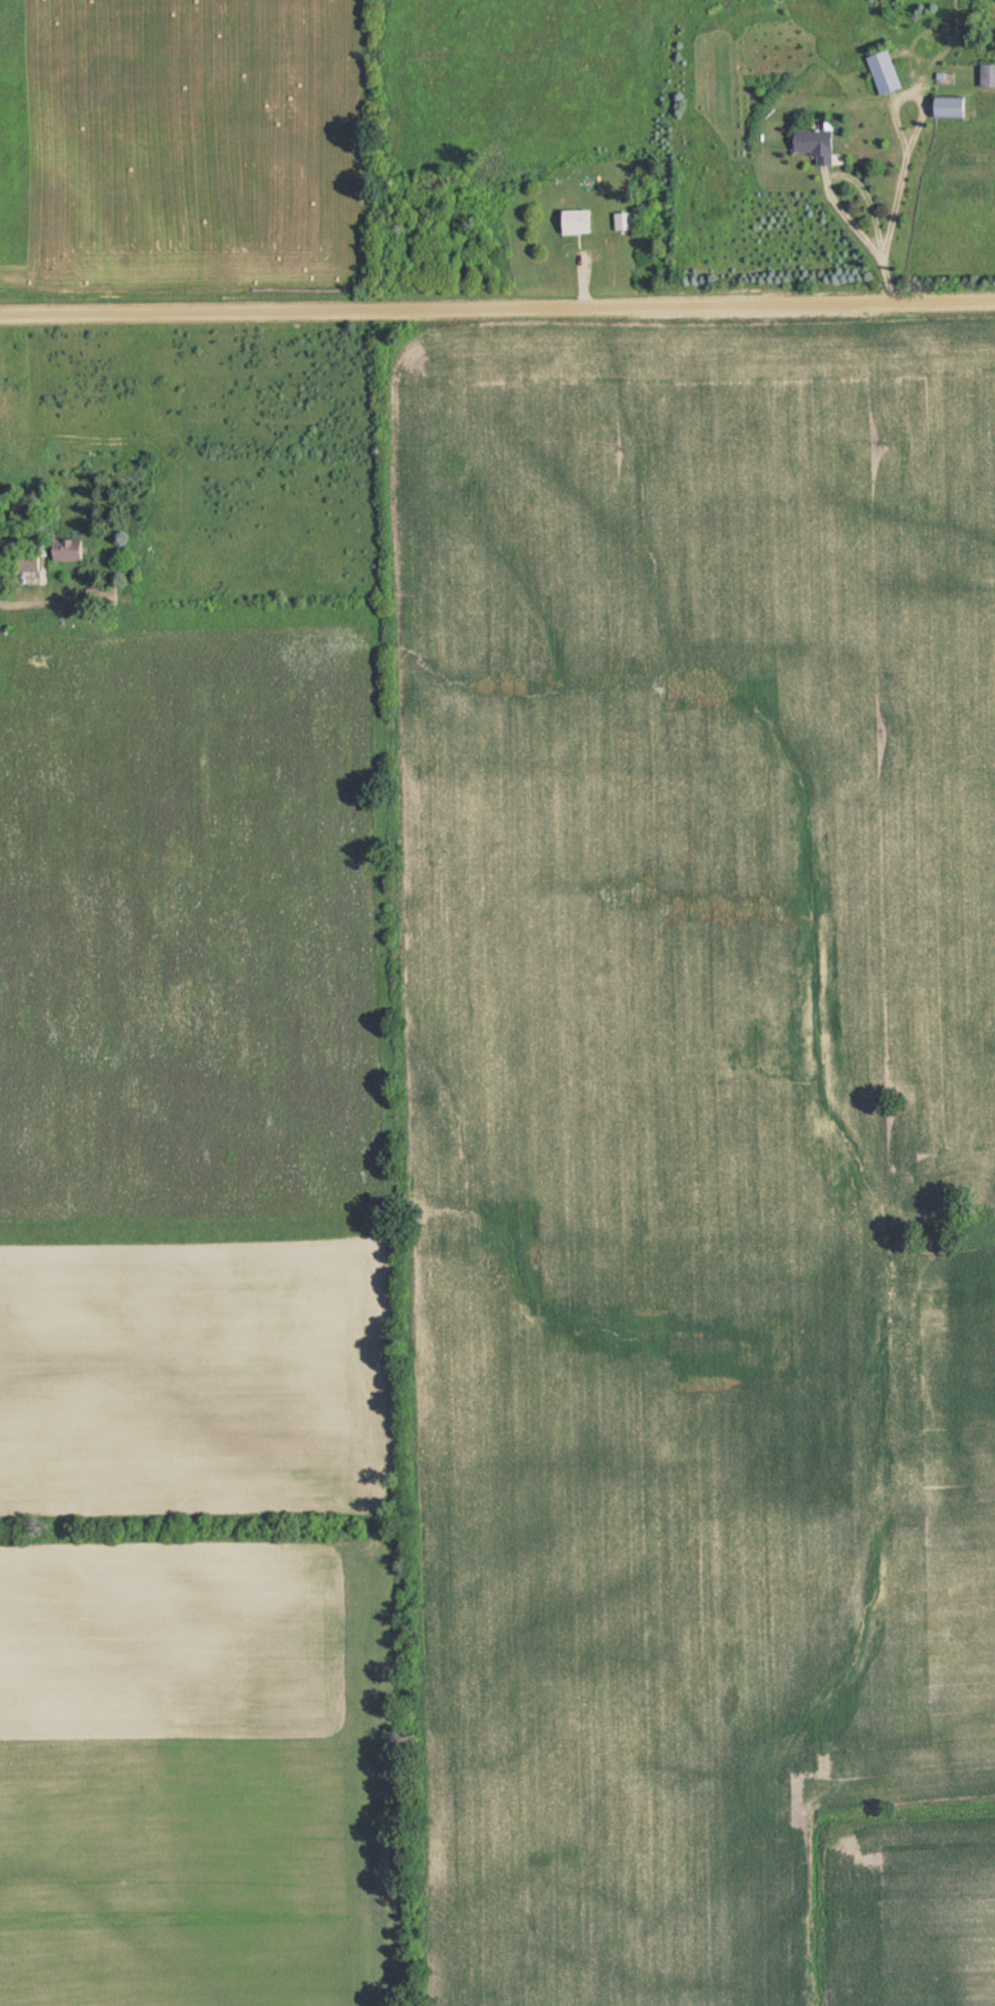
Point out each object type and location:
building: (879, 72)
building: (985, 75)
building: (943, 107)
building: (810, 144)
building: (571, 220)
building: (619, 220)
road: (497, 316)
building: (62, 550)
building: (21, 563)
building: (98, 596)

